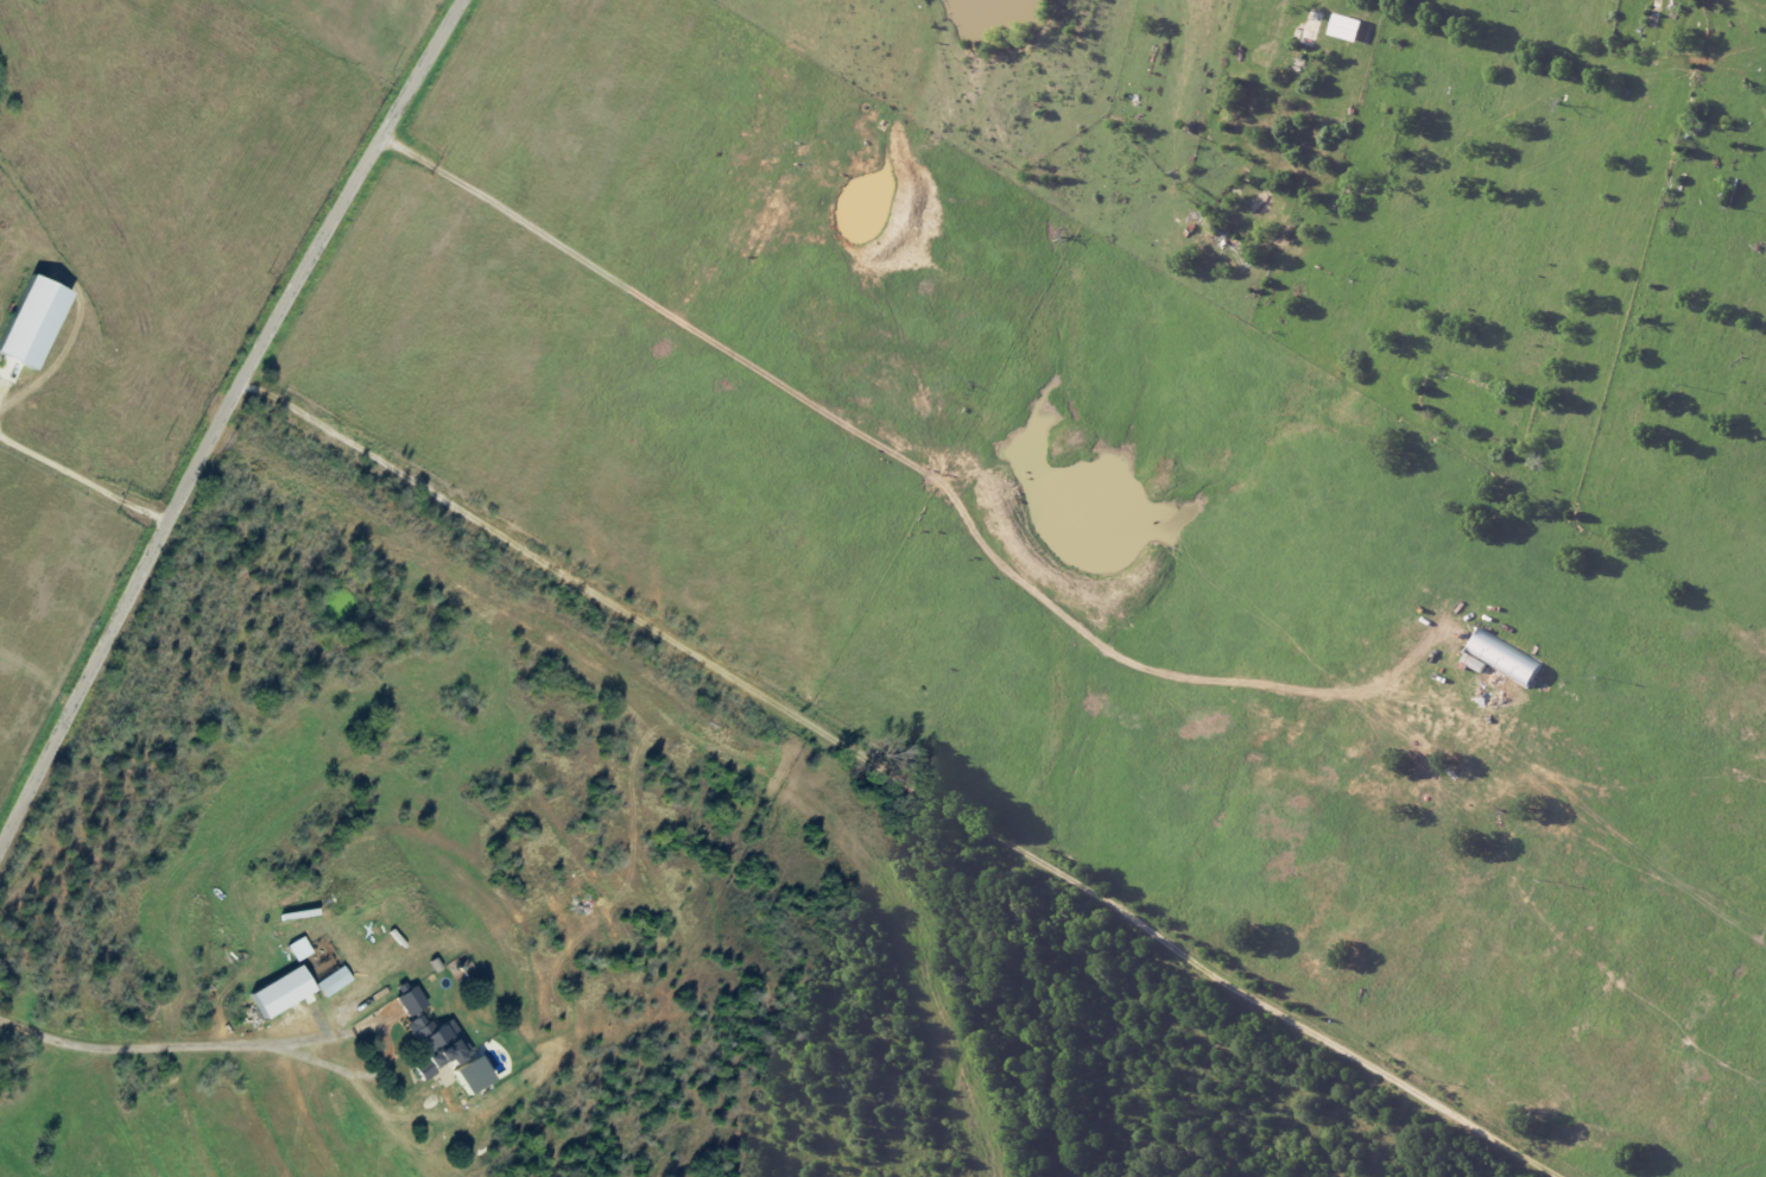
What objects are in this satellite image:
building: (1348, 27)
building: (36, 321)
road: (222, 420)
road: (905, 470)
road: (83, 479)
road: (899, 767)
building: (335, 981)
building: (286, 991)
building: (412, 1000)
building: (438, 1044)
road: (159, 1048)

